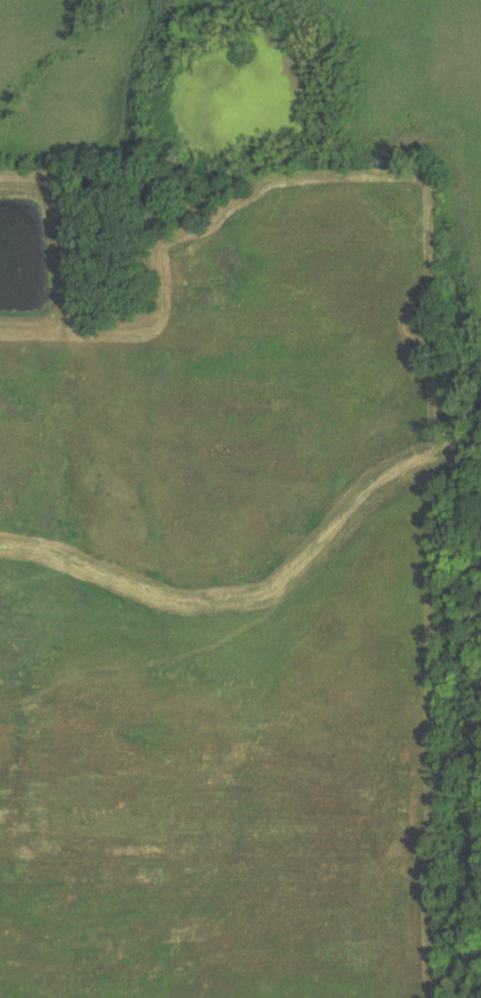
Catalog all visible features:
crop: (218, 791)

